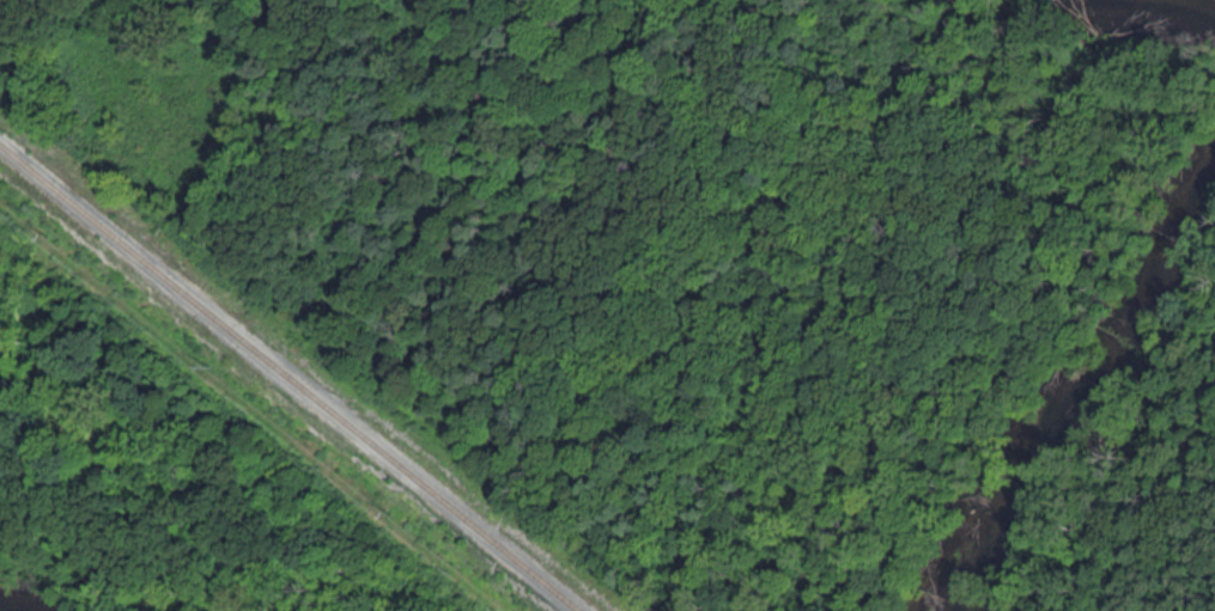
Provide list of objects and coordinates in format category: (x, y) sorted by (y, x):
river: (1191, 4)
park: (607, 305)
railway: (291, 378)
river: (1076, 397)
road: (1170, 511)

